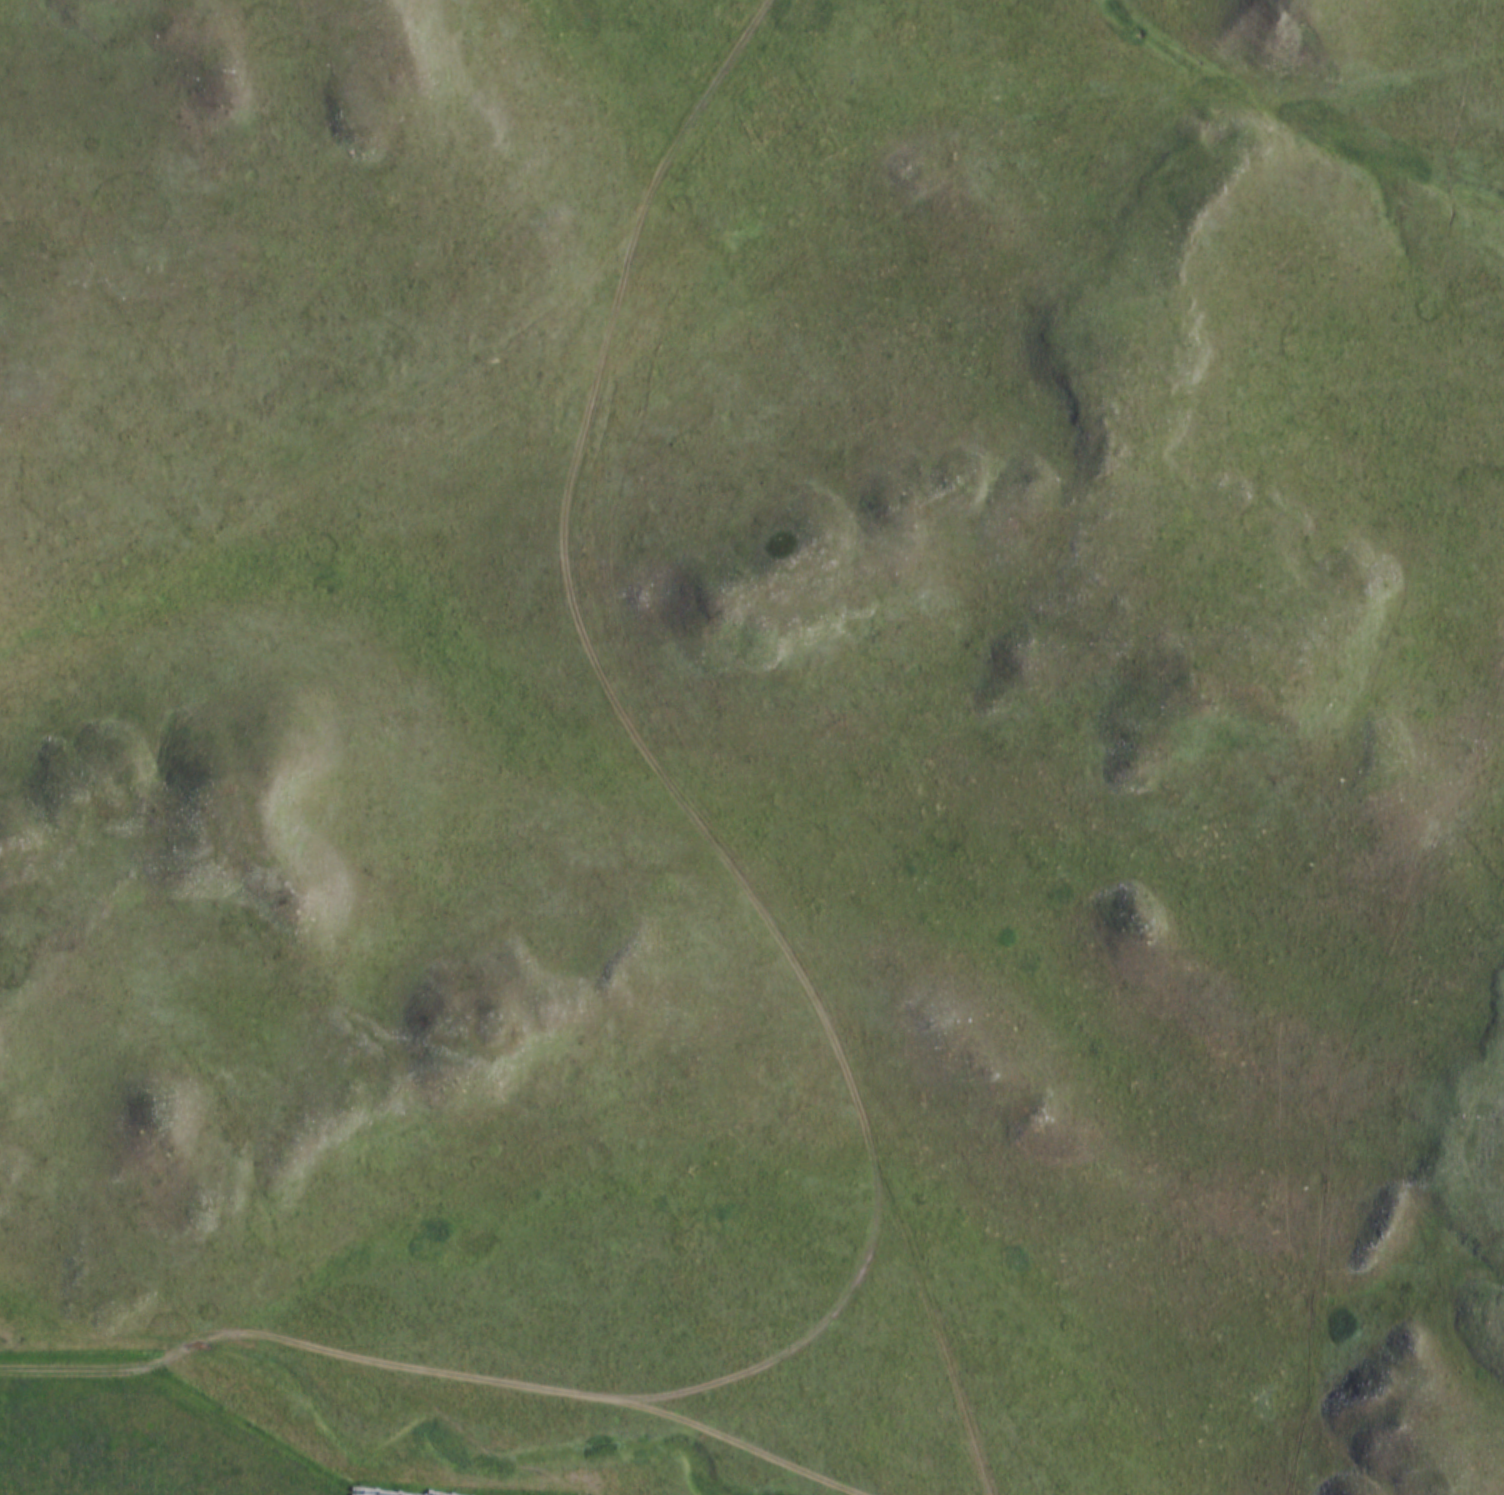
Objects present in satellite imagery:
road: (438, 1371)

